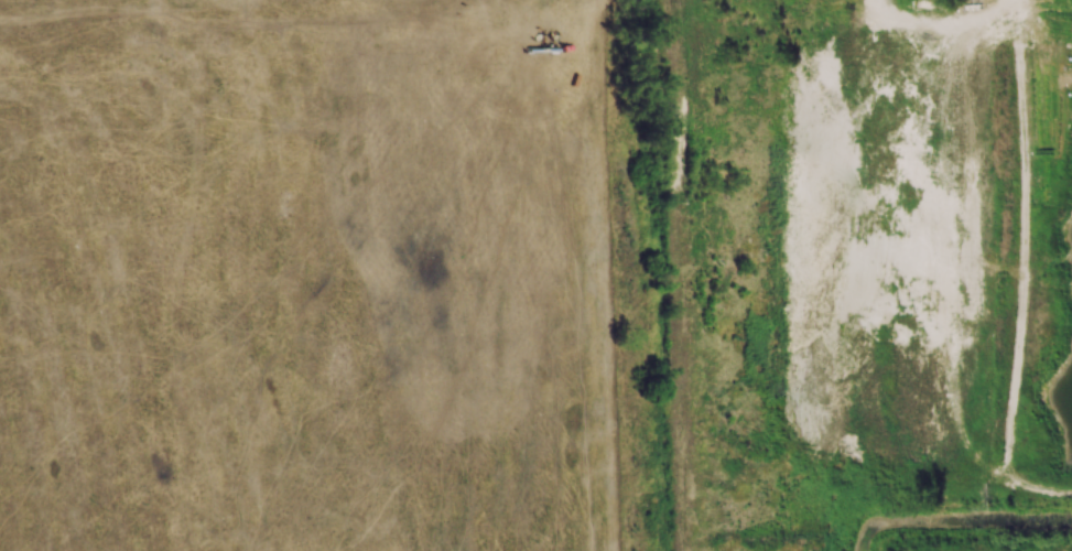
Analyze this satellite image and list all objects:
road: (961, 21)

